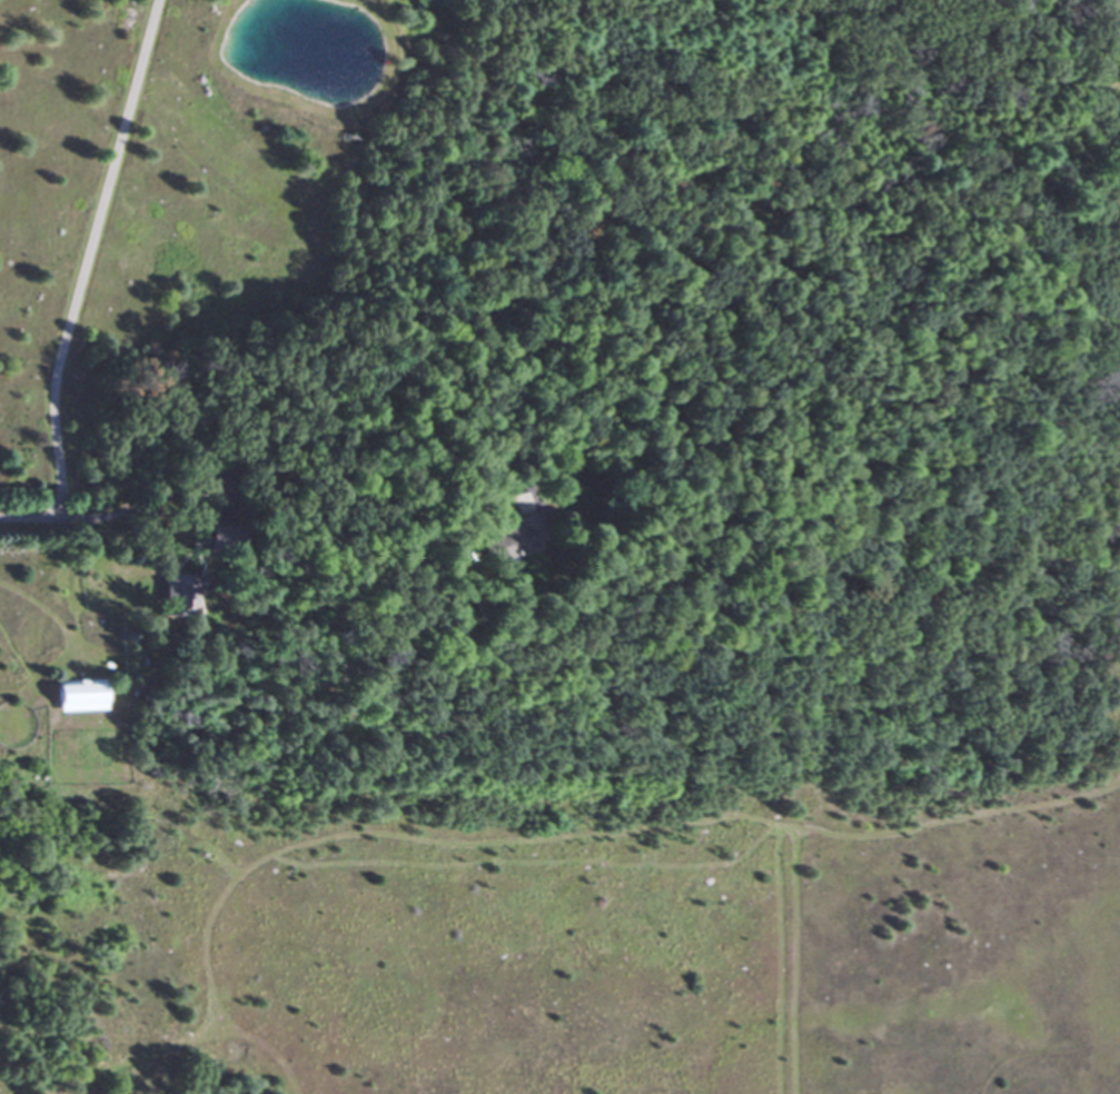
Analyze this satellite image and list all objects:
road: (75, 275)
road: (375, 434)
road: (159, 487)
building: (512, 539)
building: (75, 696)

